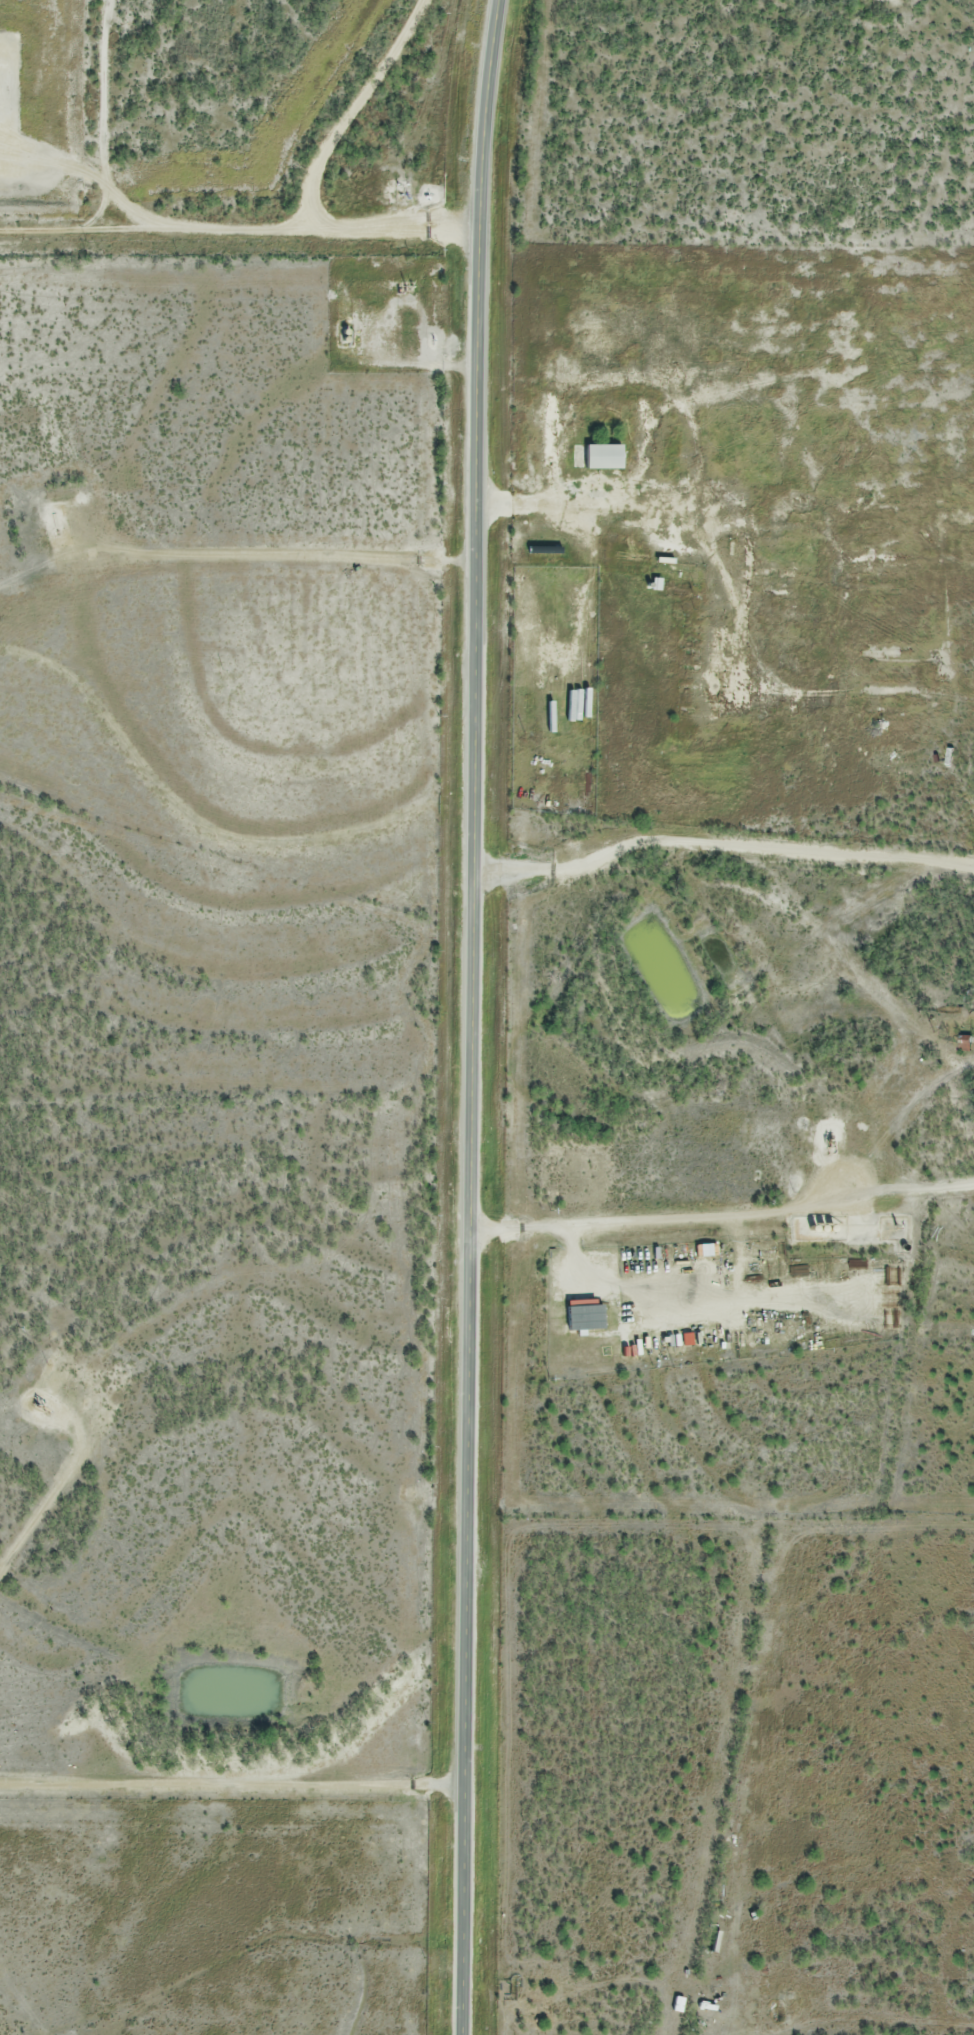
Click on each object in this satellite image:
road: (312, 177)
building: (605, 457)
building: (678, 574)
building: (701, 648)
road: (719, 842)
road: (468, 1017)
road: (721, 1211)
building: (588, 1315)
building: (678, 2005)

